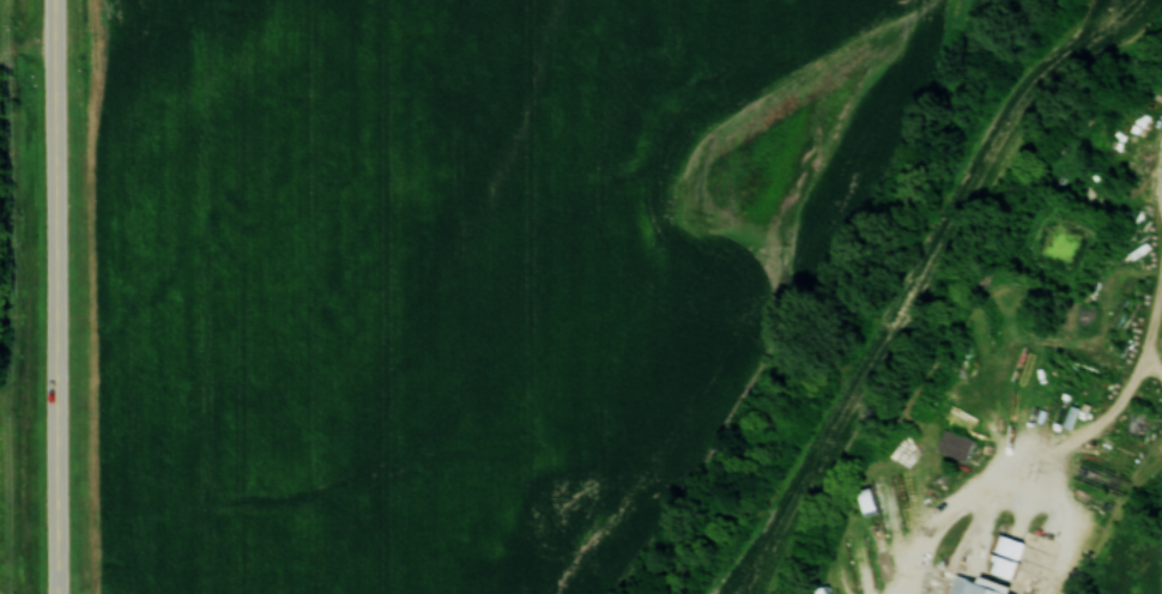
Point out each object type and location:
road: (56, 296)
building: (886, 507)
building: (1037, 554)
building: (975, 586)

